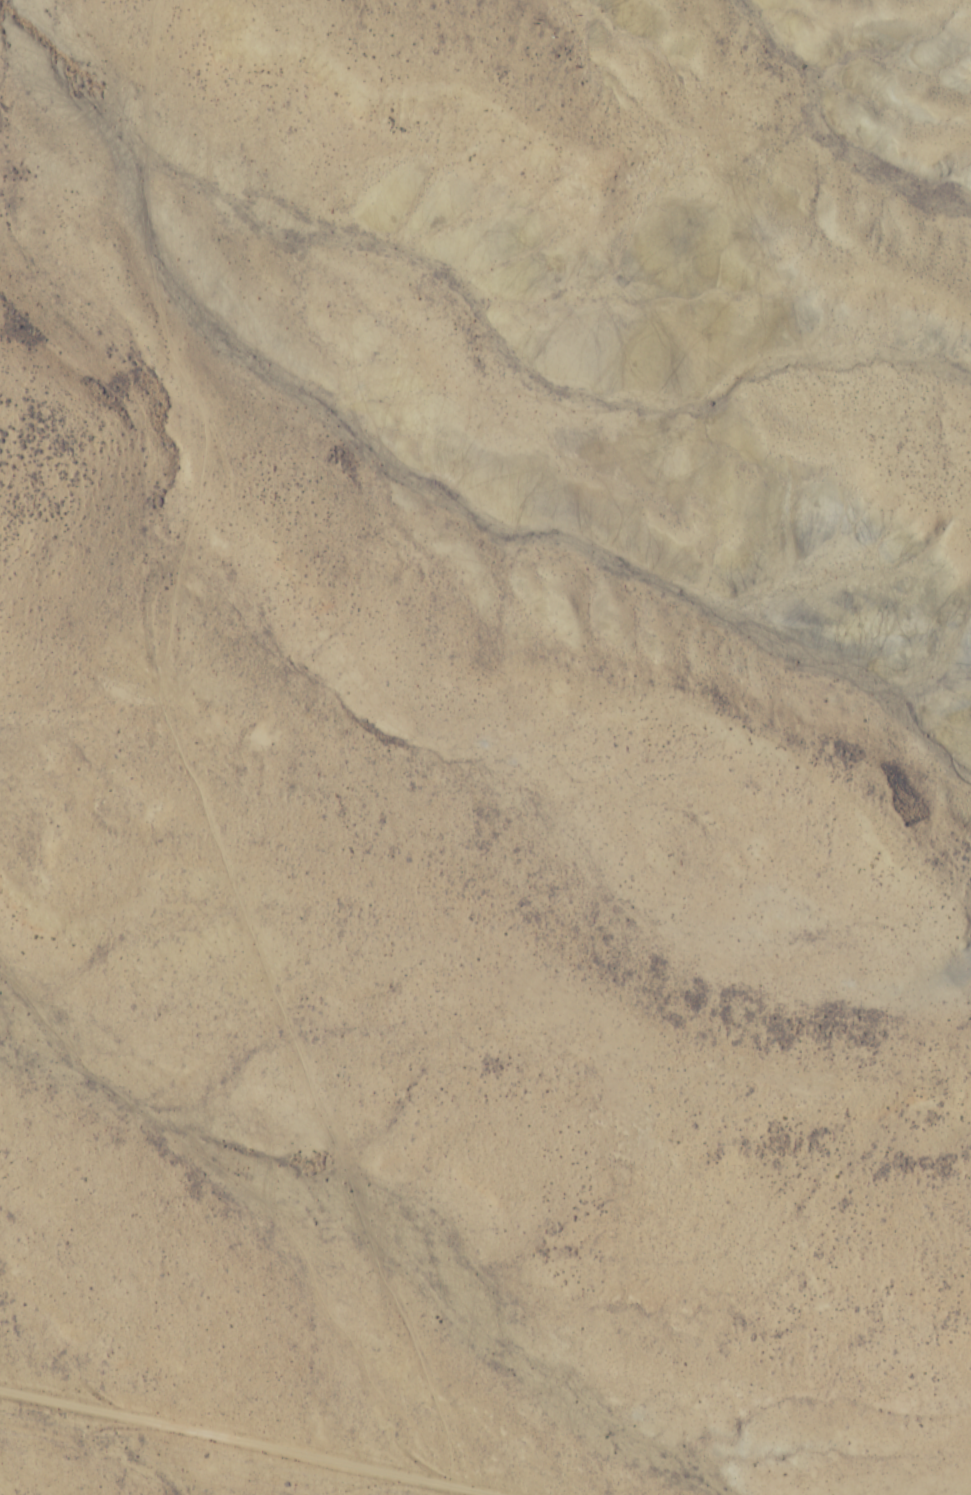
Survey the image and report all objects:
road: (300, 1433)

